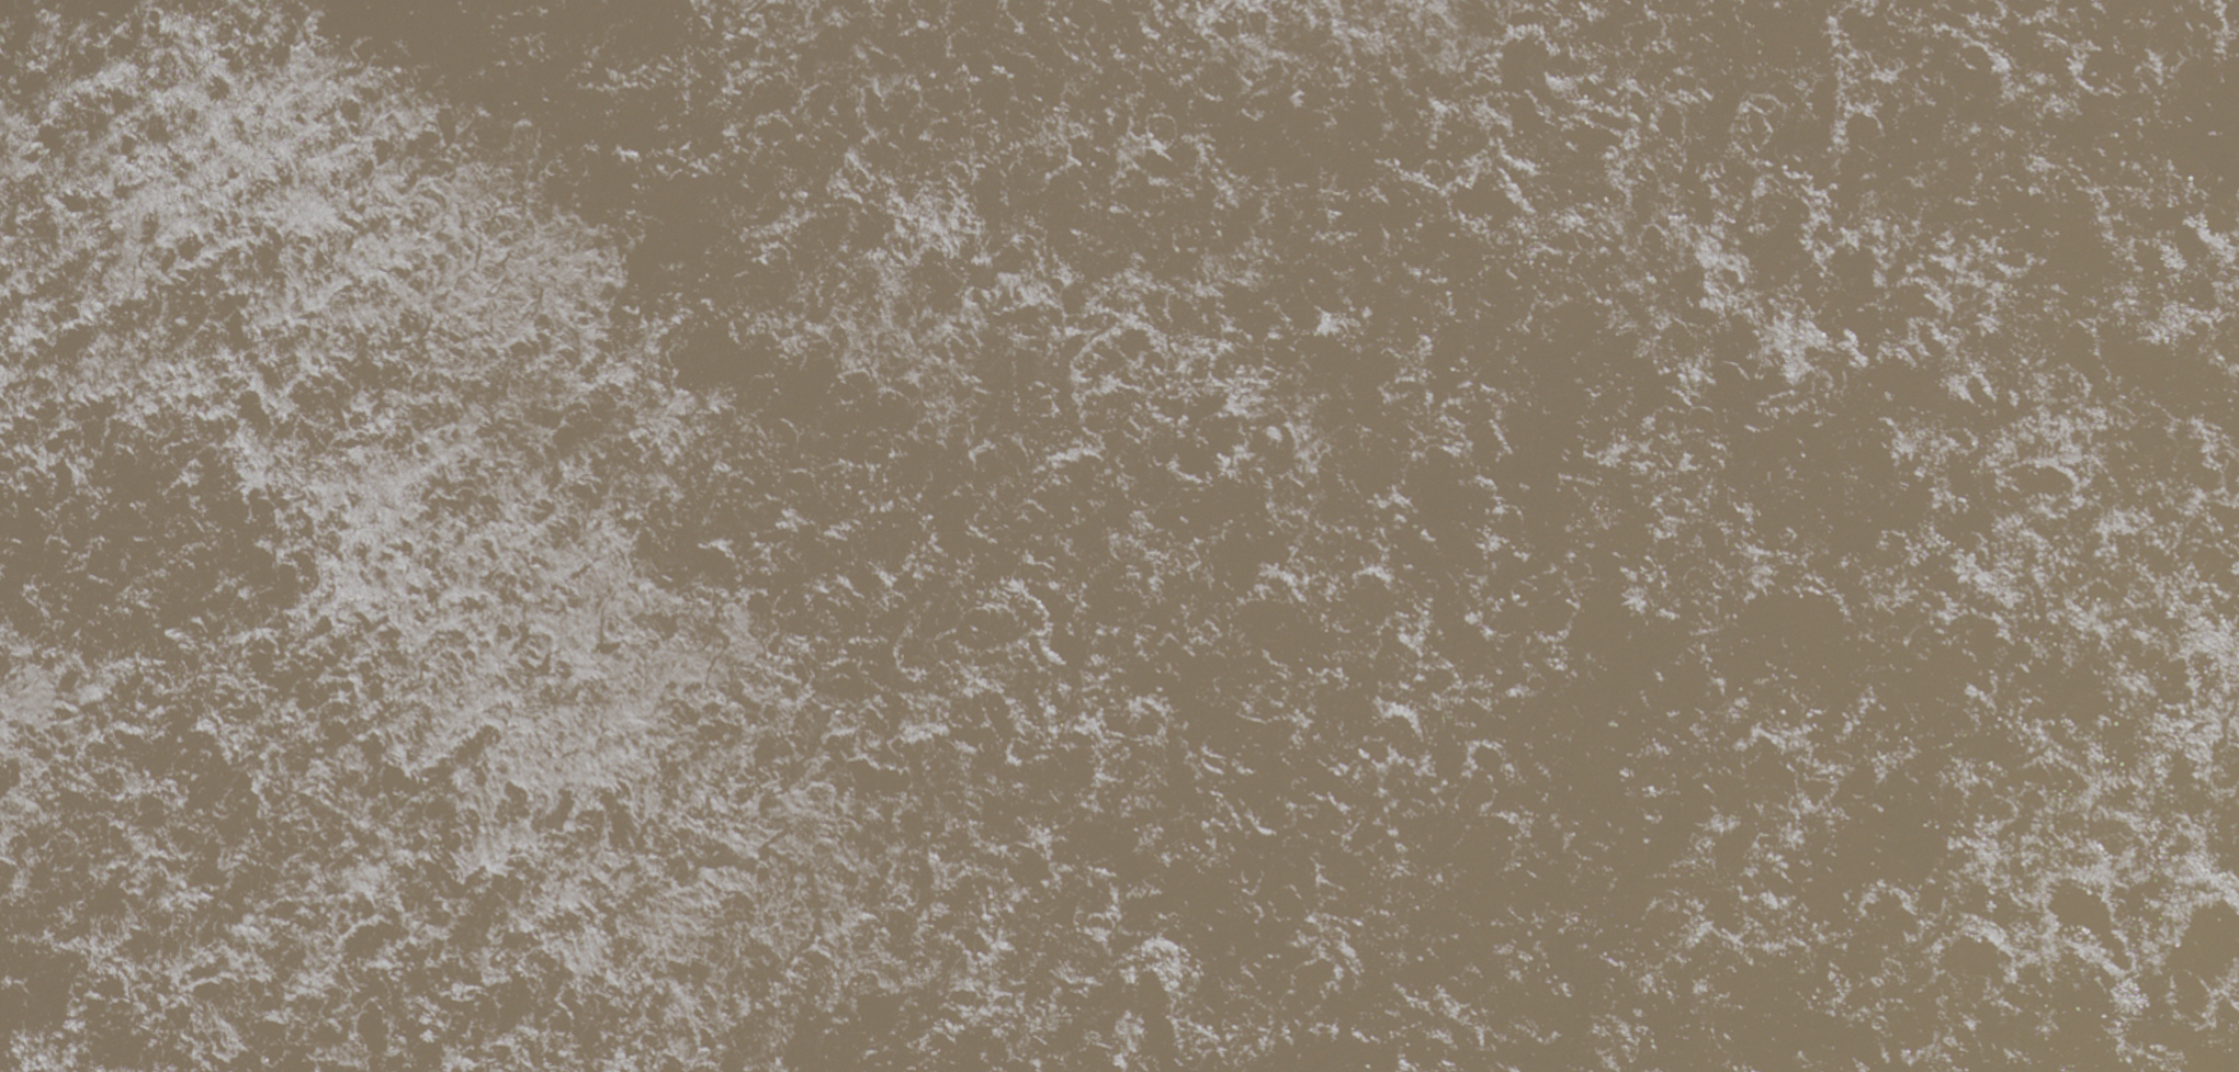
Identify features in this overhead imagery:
river: (1902, 661)

